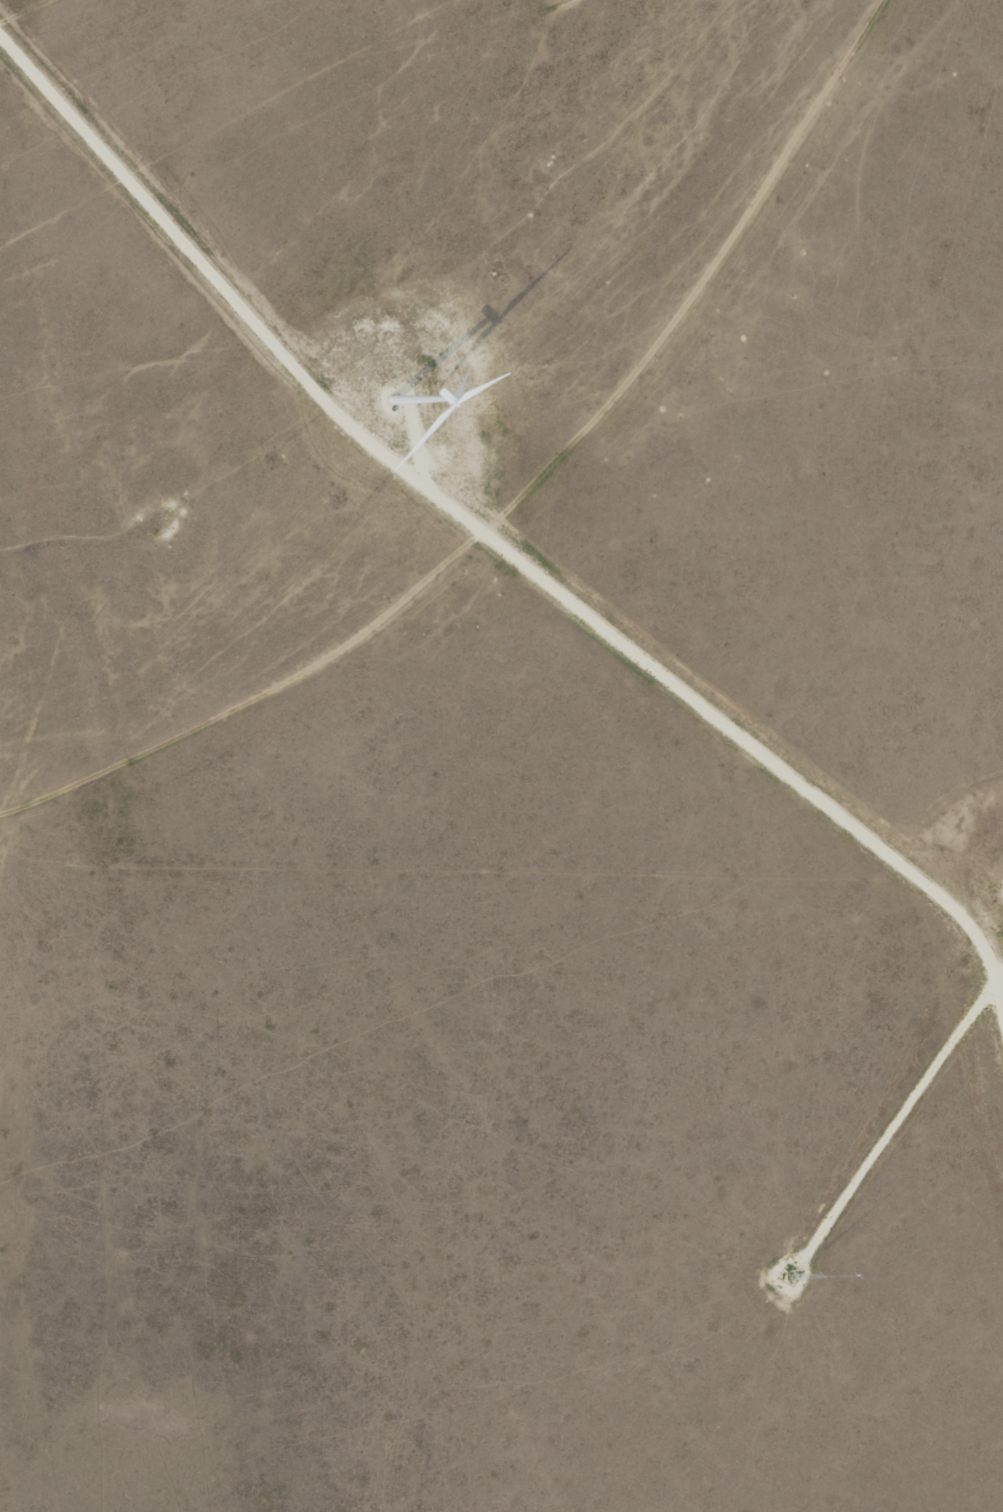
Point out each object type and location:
wind turbine: (394, 406)
road: (415, 438)
road: (491, 538)
road: (901, 1114)

